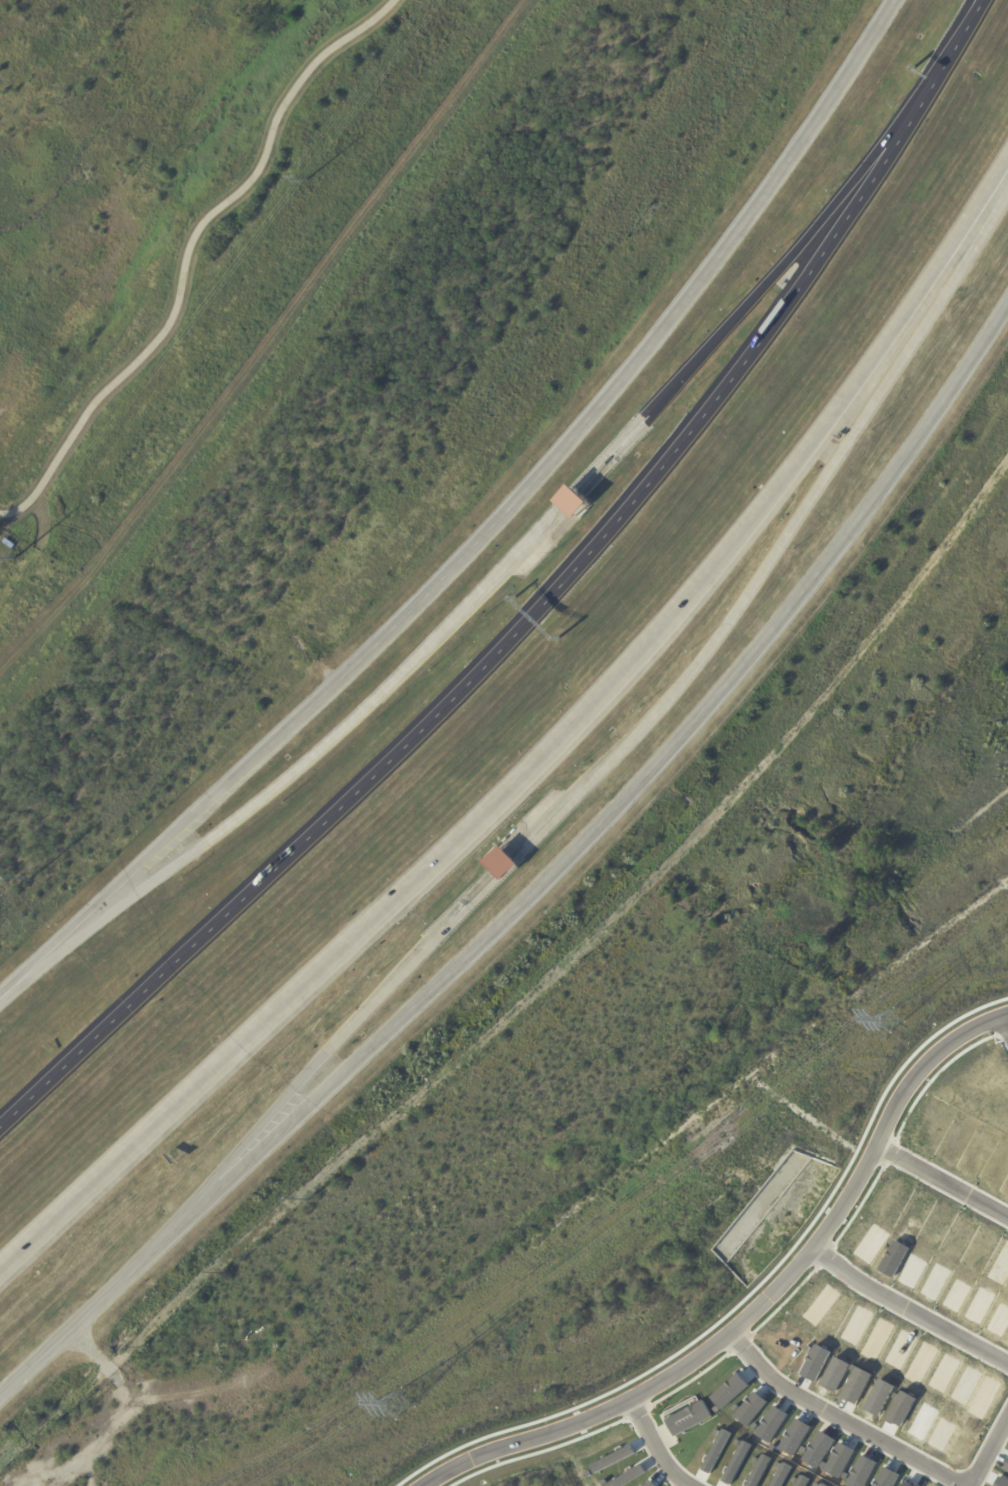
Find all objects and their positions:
road: (948, 58)
power tower: (313, 179)
road: (187, 252)
road: (747, 305)
road: (566, 495)
building: (572, 501)
road: (487, 532)
road: (782, 541)
power tower: (21, 555)
parking lot: (522, 568)
road: (495, 654)
road: (546, 752)
road: (295, 770)
road: (648, 776)
park: (786, 808)
building: (503, 862)
road: (508, 867)
power tower: (894, 1021)
road: (354, 1025)
road: (946, 1173)
road: (111, 1292)
road: (912, 1300)
road: (764, 1302)
power tower: (400, 1408)
road: (850, 1415)
road: (660, 1444)
road: (992, 1456)

